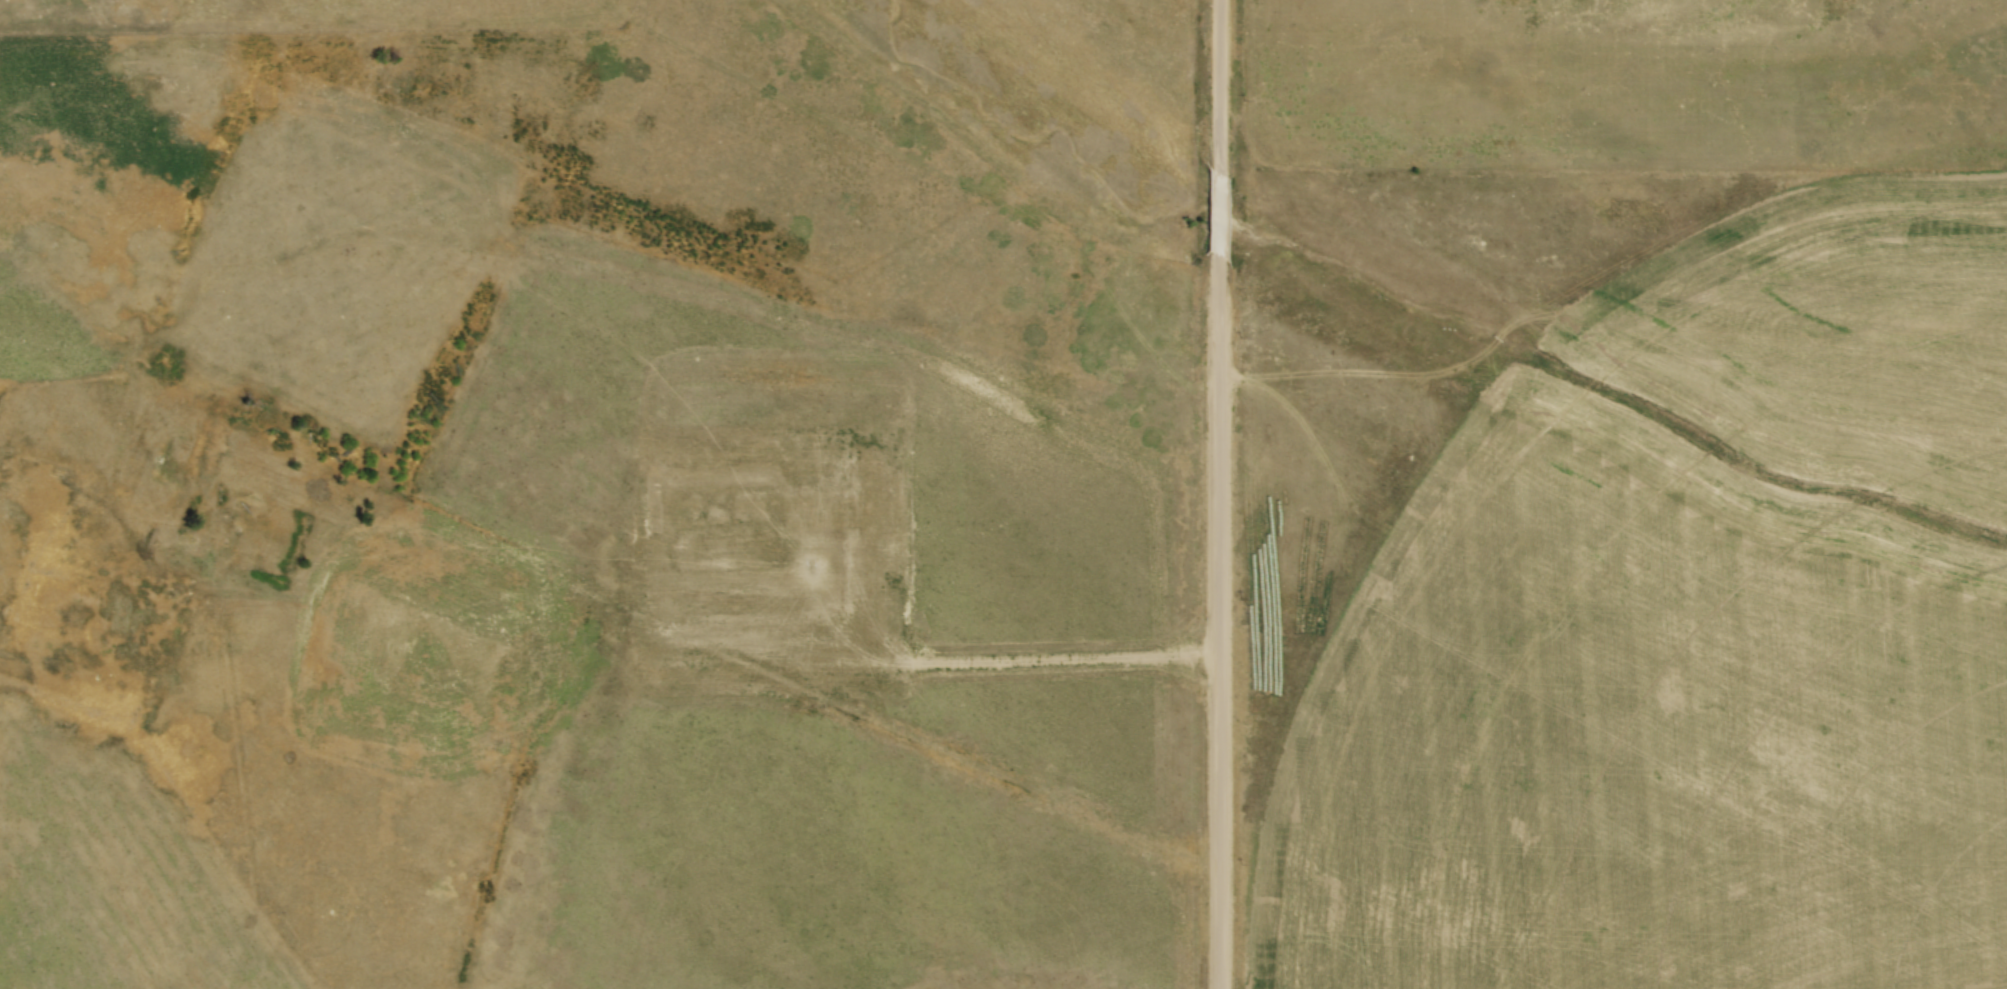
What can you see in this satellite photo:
road: (1217, 82)
road: (1217, 208)
building: (121, 595)
road: (1216, 620)
crop: (1687, 640)

